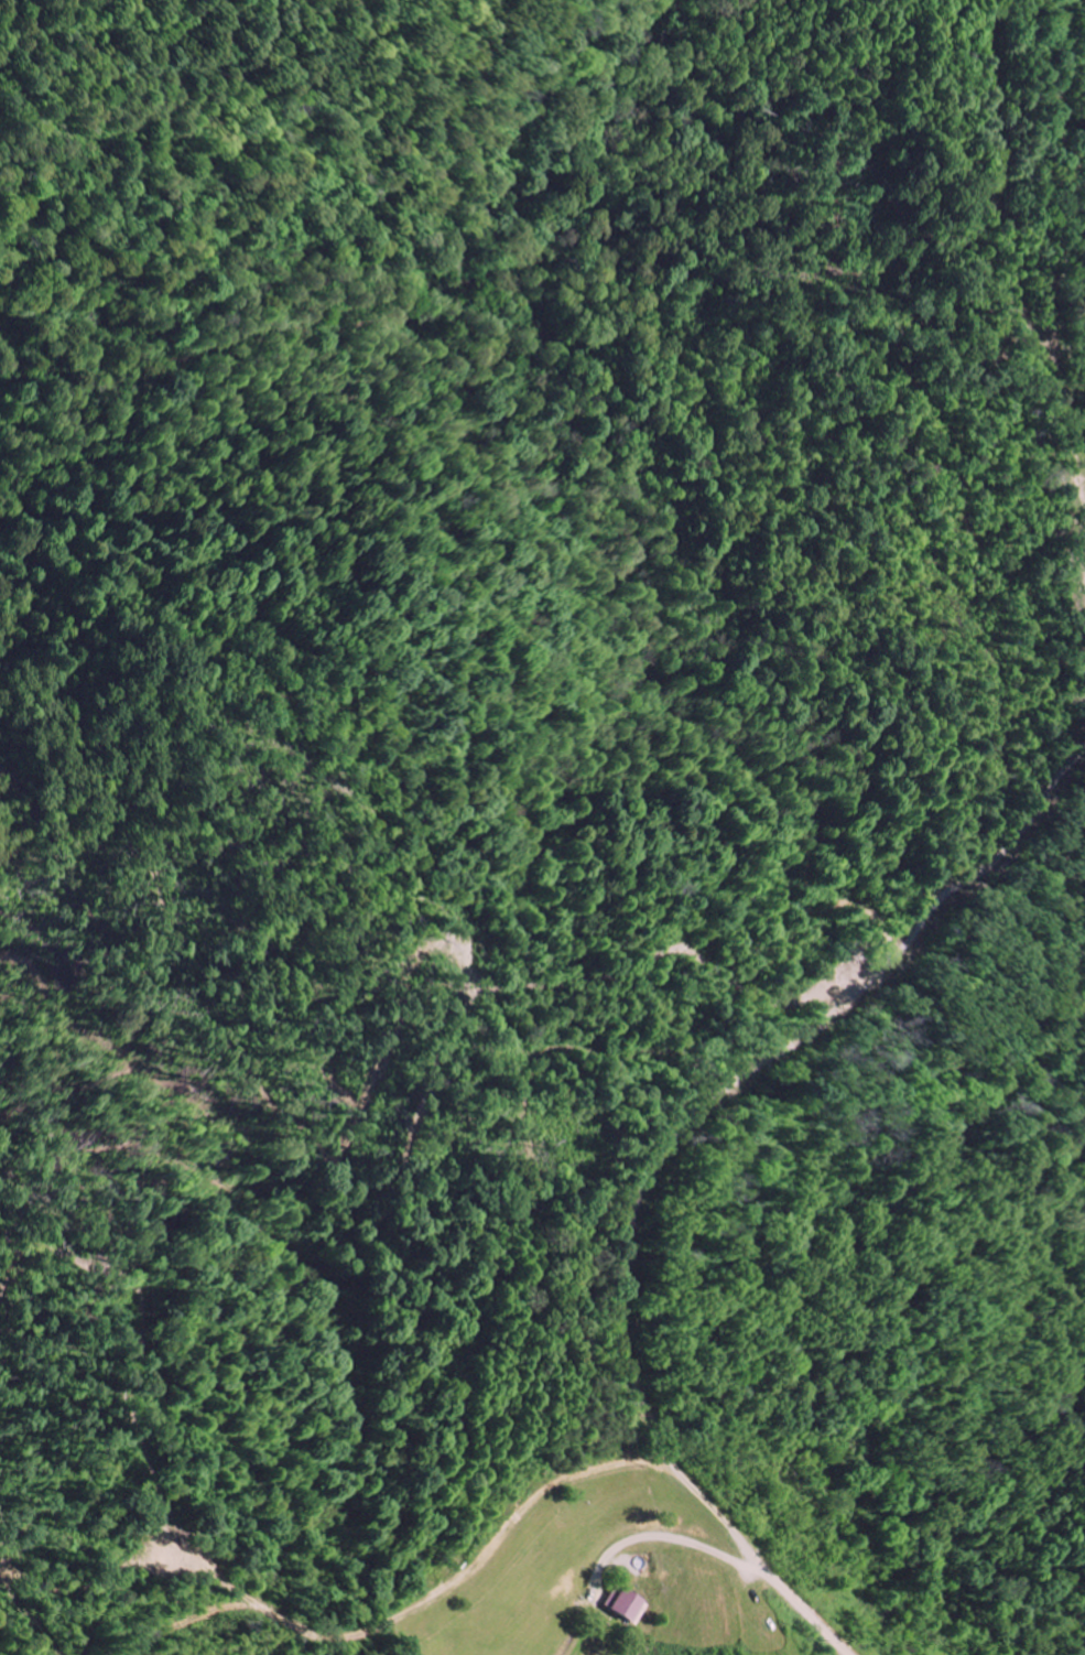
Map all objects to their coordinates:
road: (1070, 445)
road: (663, 1154)
building: (629, 1605)

